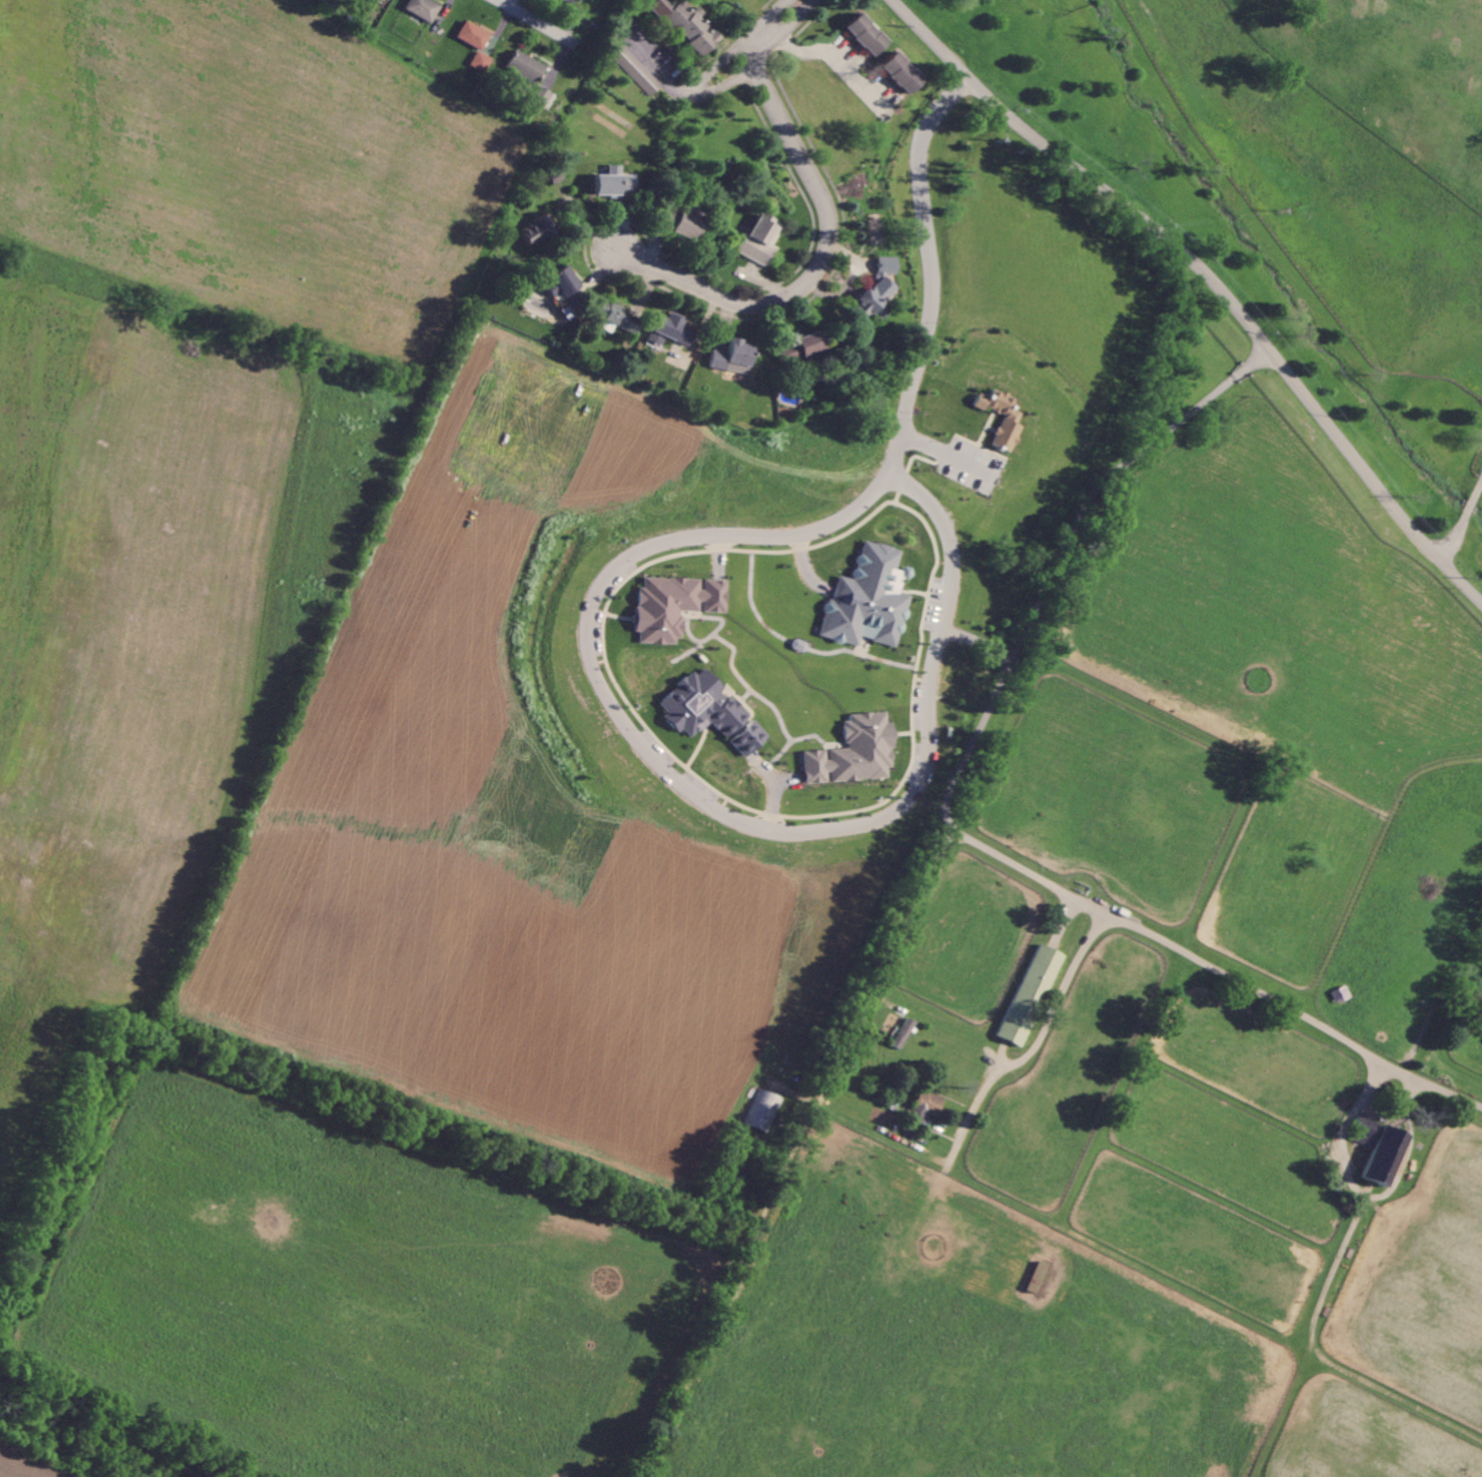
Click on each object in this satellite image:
building: (570, 1)
road: (508, 2)
building: (422, 8)
road: (535, 21)
building: (684, 24)
road: (921, 27)
building: (865, 34)
building: (472, 35)
road: (733, 49)
road: (750, 52)
road: (831, 58)
building: (480, 61)
building: (524, 66)
building: (633, 67)
road: (750, 69)
building: (900, 73)
building: (540, 96)
building: (614, 182)
building: (681, 224)
building: (538, 229)
building: (759, 239)
road: (930, 269)
road: (816, 270)
building: (563, 285)
building: (878, 288)
road: (1239, 305)
building: (621, 318)
building: (671, 330)
building: (802, 346)
building: (734, 356)
building: (1009, 419)
road: (944, 450)
road: (1462, 522)
building: (869, 599)
building: (675, 605)
road: (978, 641)
building: (704, 706)
building: (750, 738)
building: (855, 752)
road: (700, 799)
road: (953, 825)
building: (1029, 994)
road: (867, 1003)
road: (1431, 1040)
road: (1035, 1041)
building: (925, 1107)
building: (765, 1109)
building: (1380, 1148)
building: (1036, 1277)

